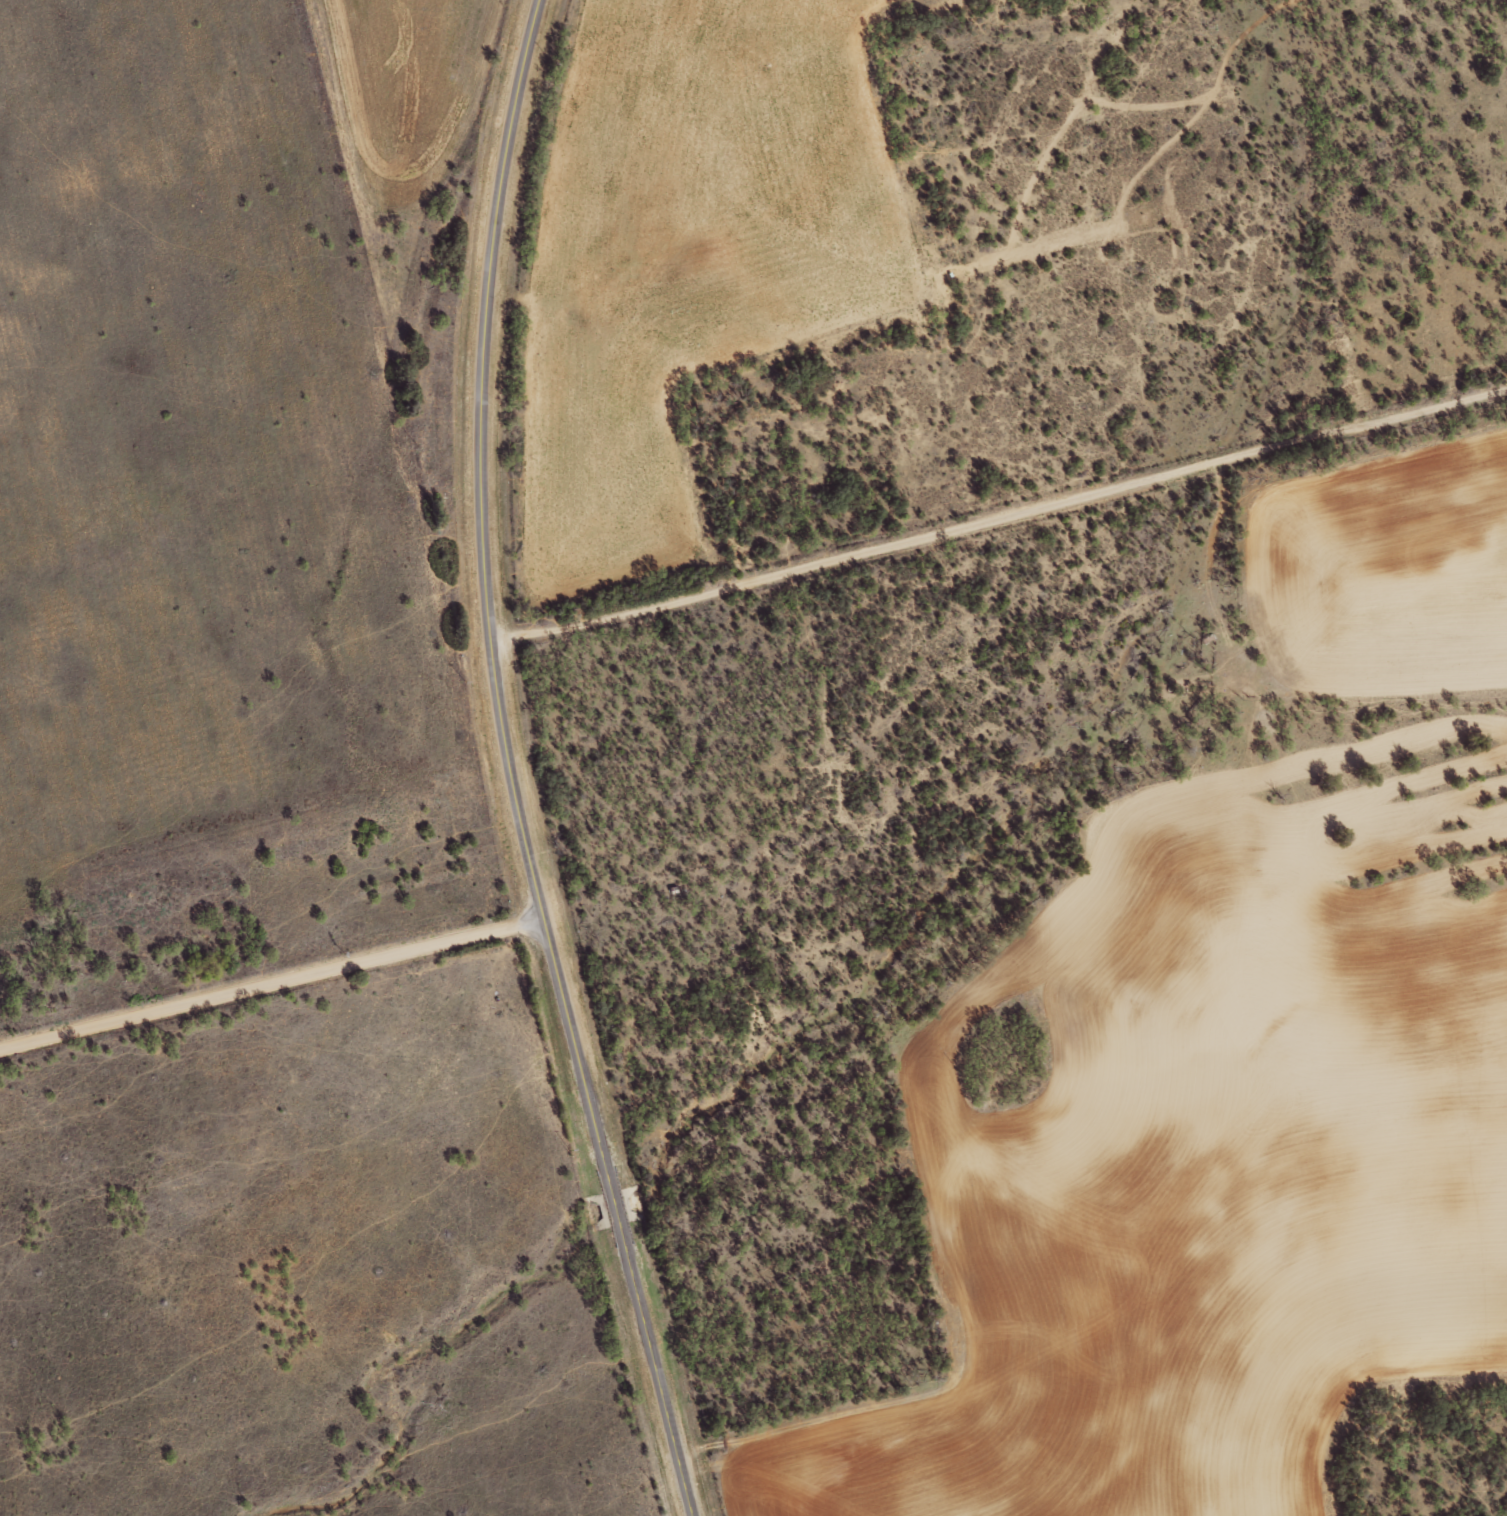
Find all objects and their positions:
road: (1001, 556)
road: (511, 765)
road: (272, 987)

